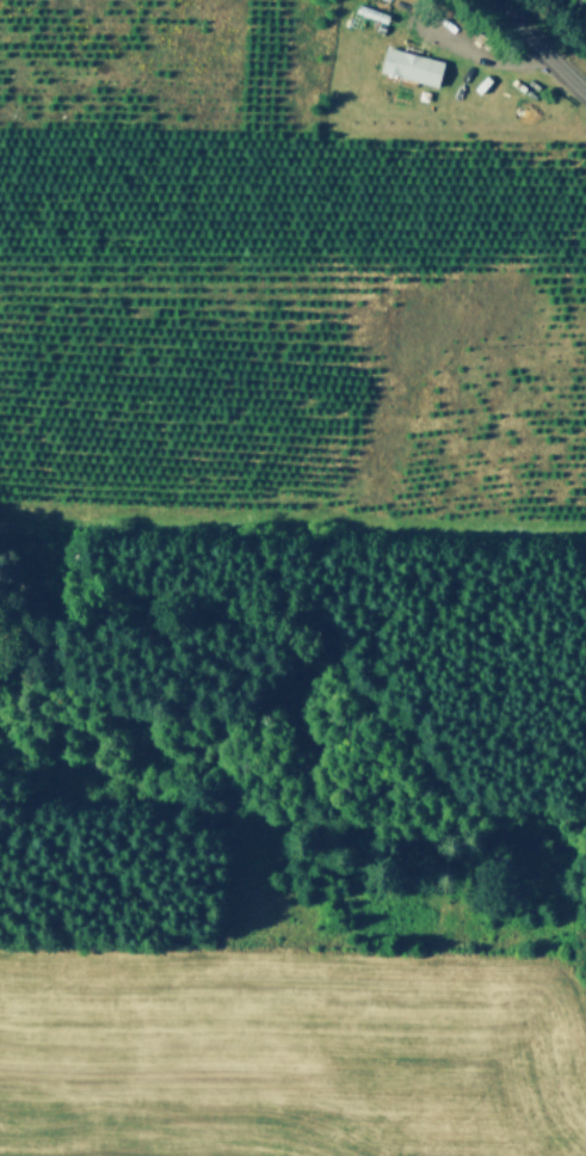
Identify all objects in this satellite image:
road: (541, 45)
building: (414, 69)
crop: (275, 278)
crop: (288, 1052)
crop: (16, 1152)

